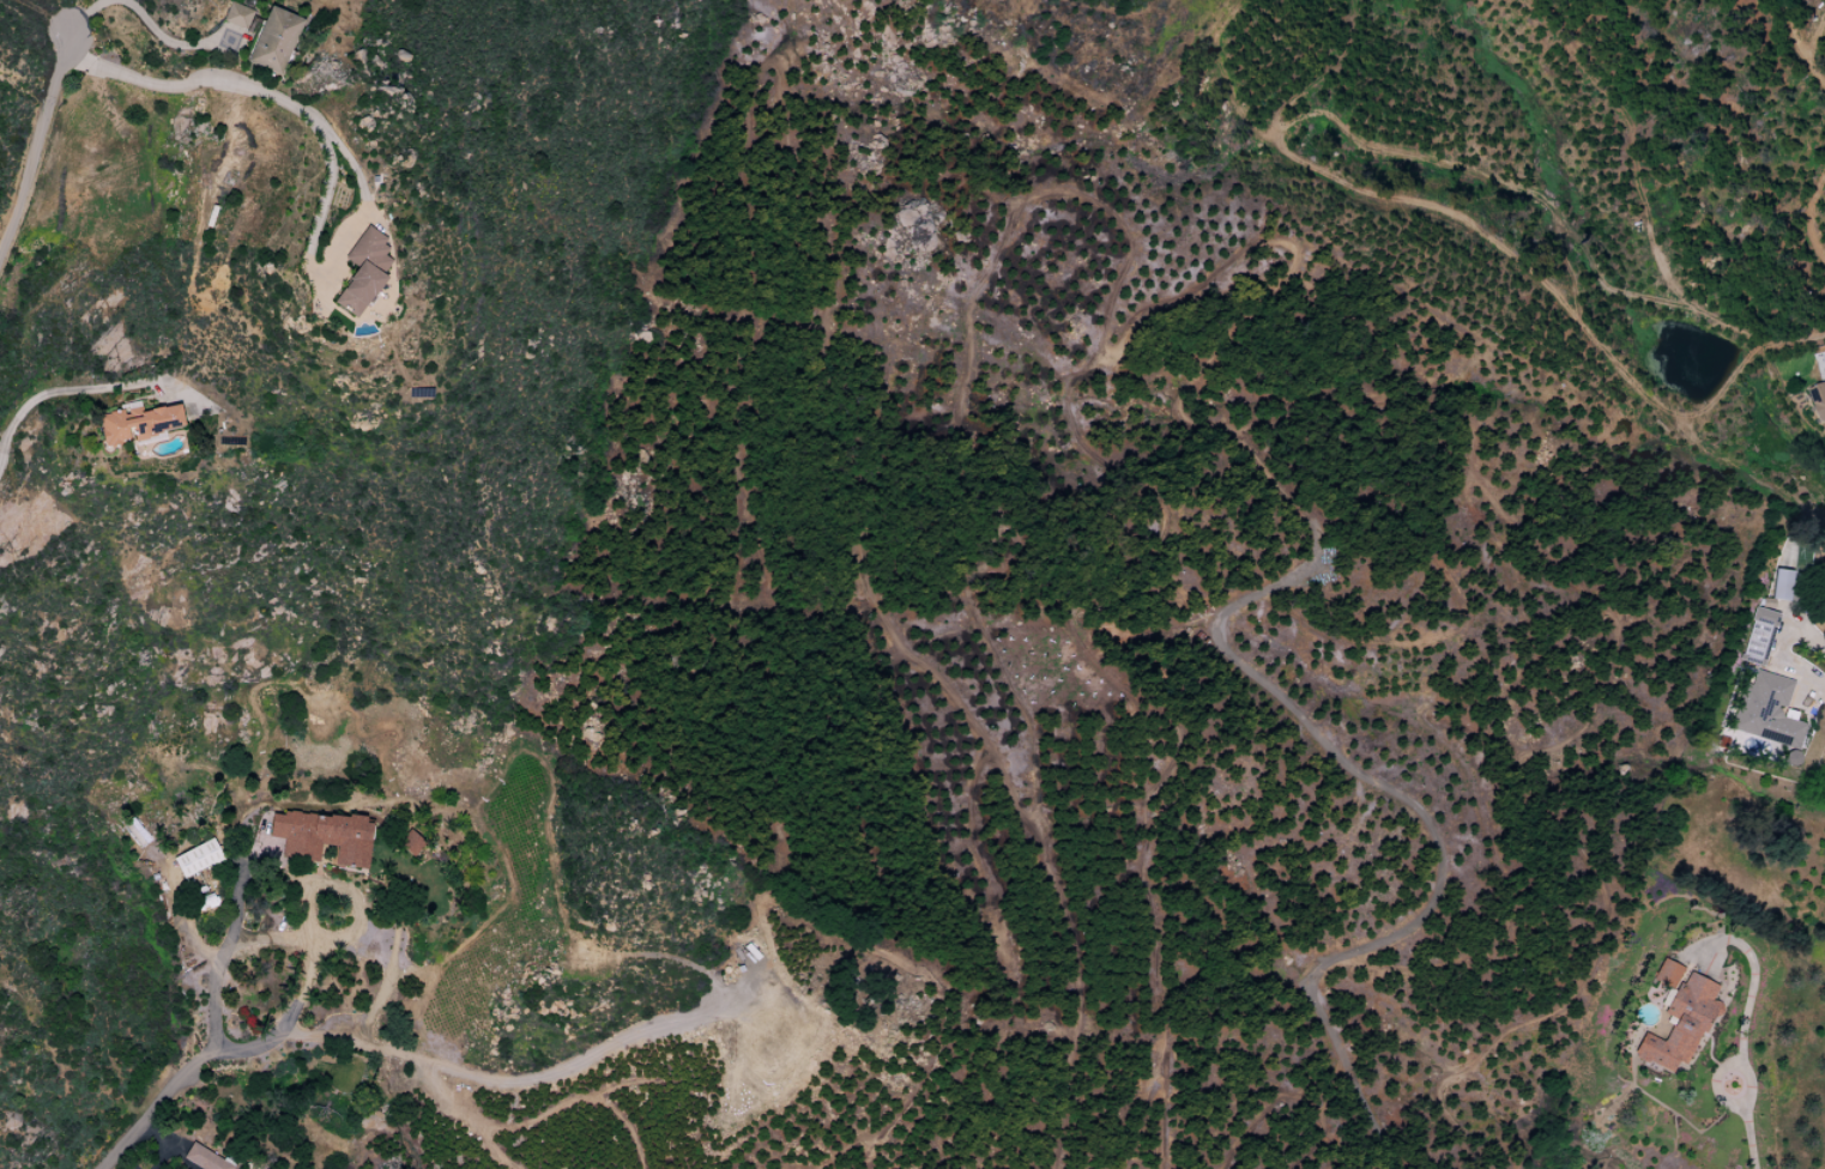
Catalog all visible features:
road: (135, 6)
building: (237, 16)
building: (276, 41)
road: (278, 99)
road: (31, 153)
building: (362, 271)
road: (67, 392)
building: (1819, 398)
building: (138, 424)
building: (1781, 584)
building: (1759, 636)
road: (1784, 655)
road: (1383, 785)
building: (321, 837)
building: (410, 842)
building: (197, 859)
road: (343, 892)
road: (304, 967)
building: (1667, 974)
building: (1679, 1024)
road: (1740, 1038)
road: (211, 1060)
road: (481, 1077)
road: (165, 1144)
building: (204, 1158)
building: (195, 1168)

